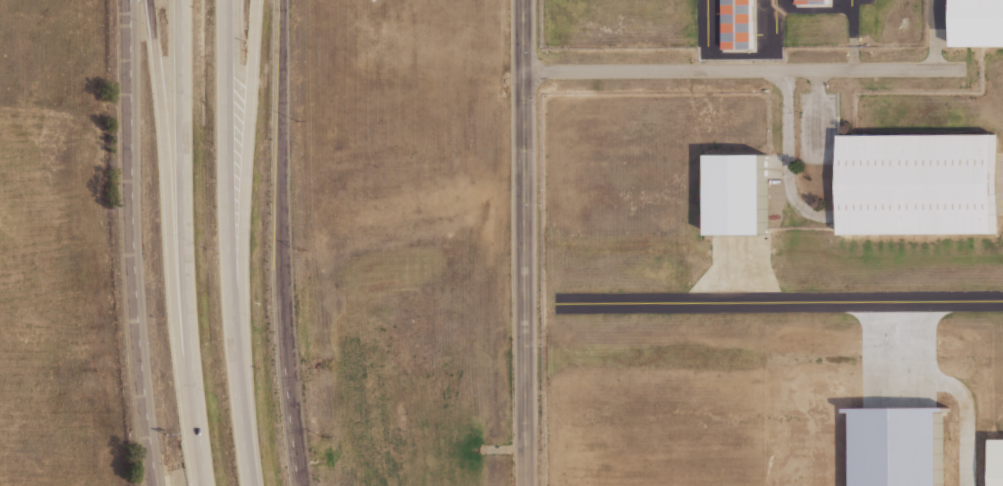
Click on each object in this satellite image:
building: (814, 1)
building: (979, 23)
building: (739, 24)
airport apron: (752, 26)
road: (851, 26)
road: (853, 58)
road: (935, 58)
road: (742, 71)
road: (817, 81)
road: (786, 162)
road: (777, 165)
building: (920, 184)
airport apron: (999, 184)
building: (740, 193)
road: (170, 213)
road: (243, 224)
road: (522, 242)
airport: (771, 242)
road: (133, 243)
road: (186, 243)
road: (228, 243)
road: (280, 243)
airport taxiway: (779, 302)
road: (966, 424)
building: (891, 447)
building: (997, 462)

